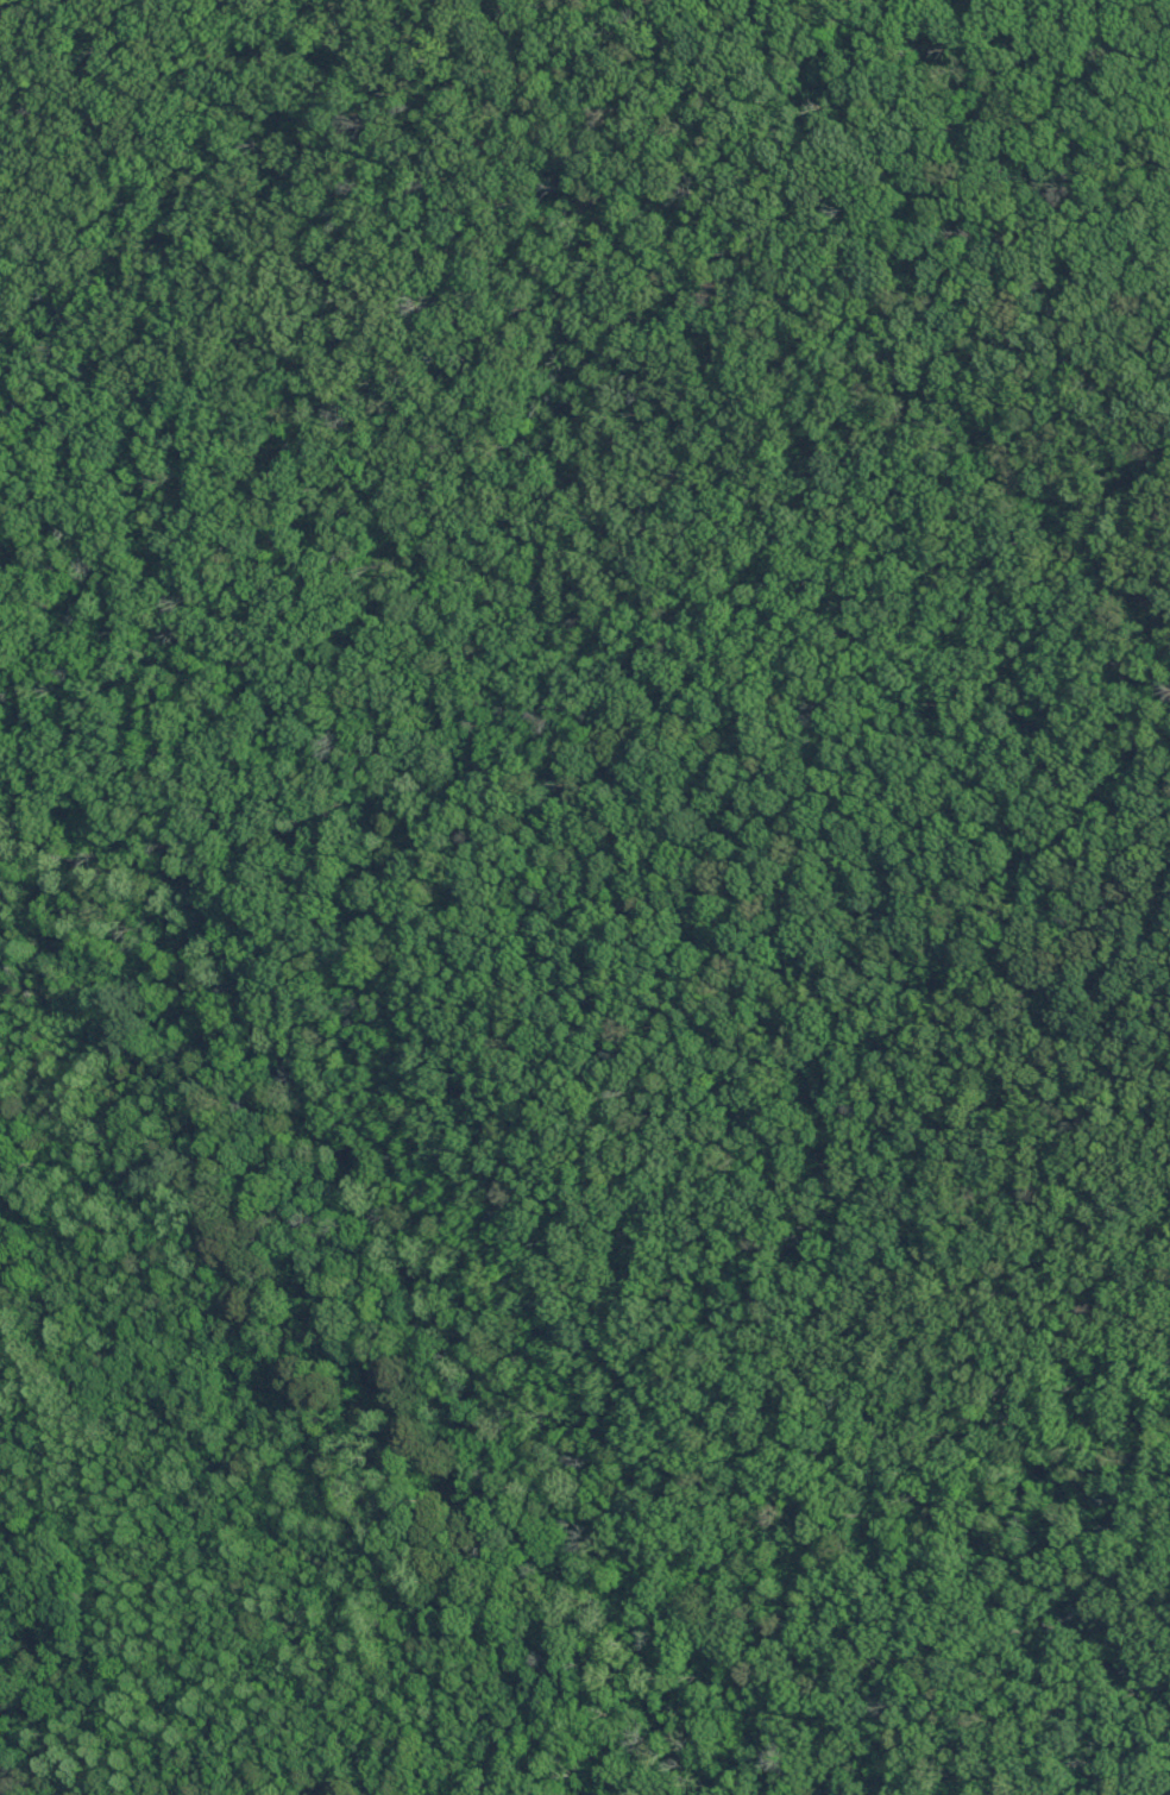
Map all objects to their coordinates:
road: (853, 303)

